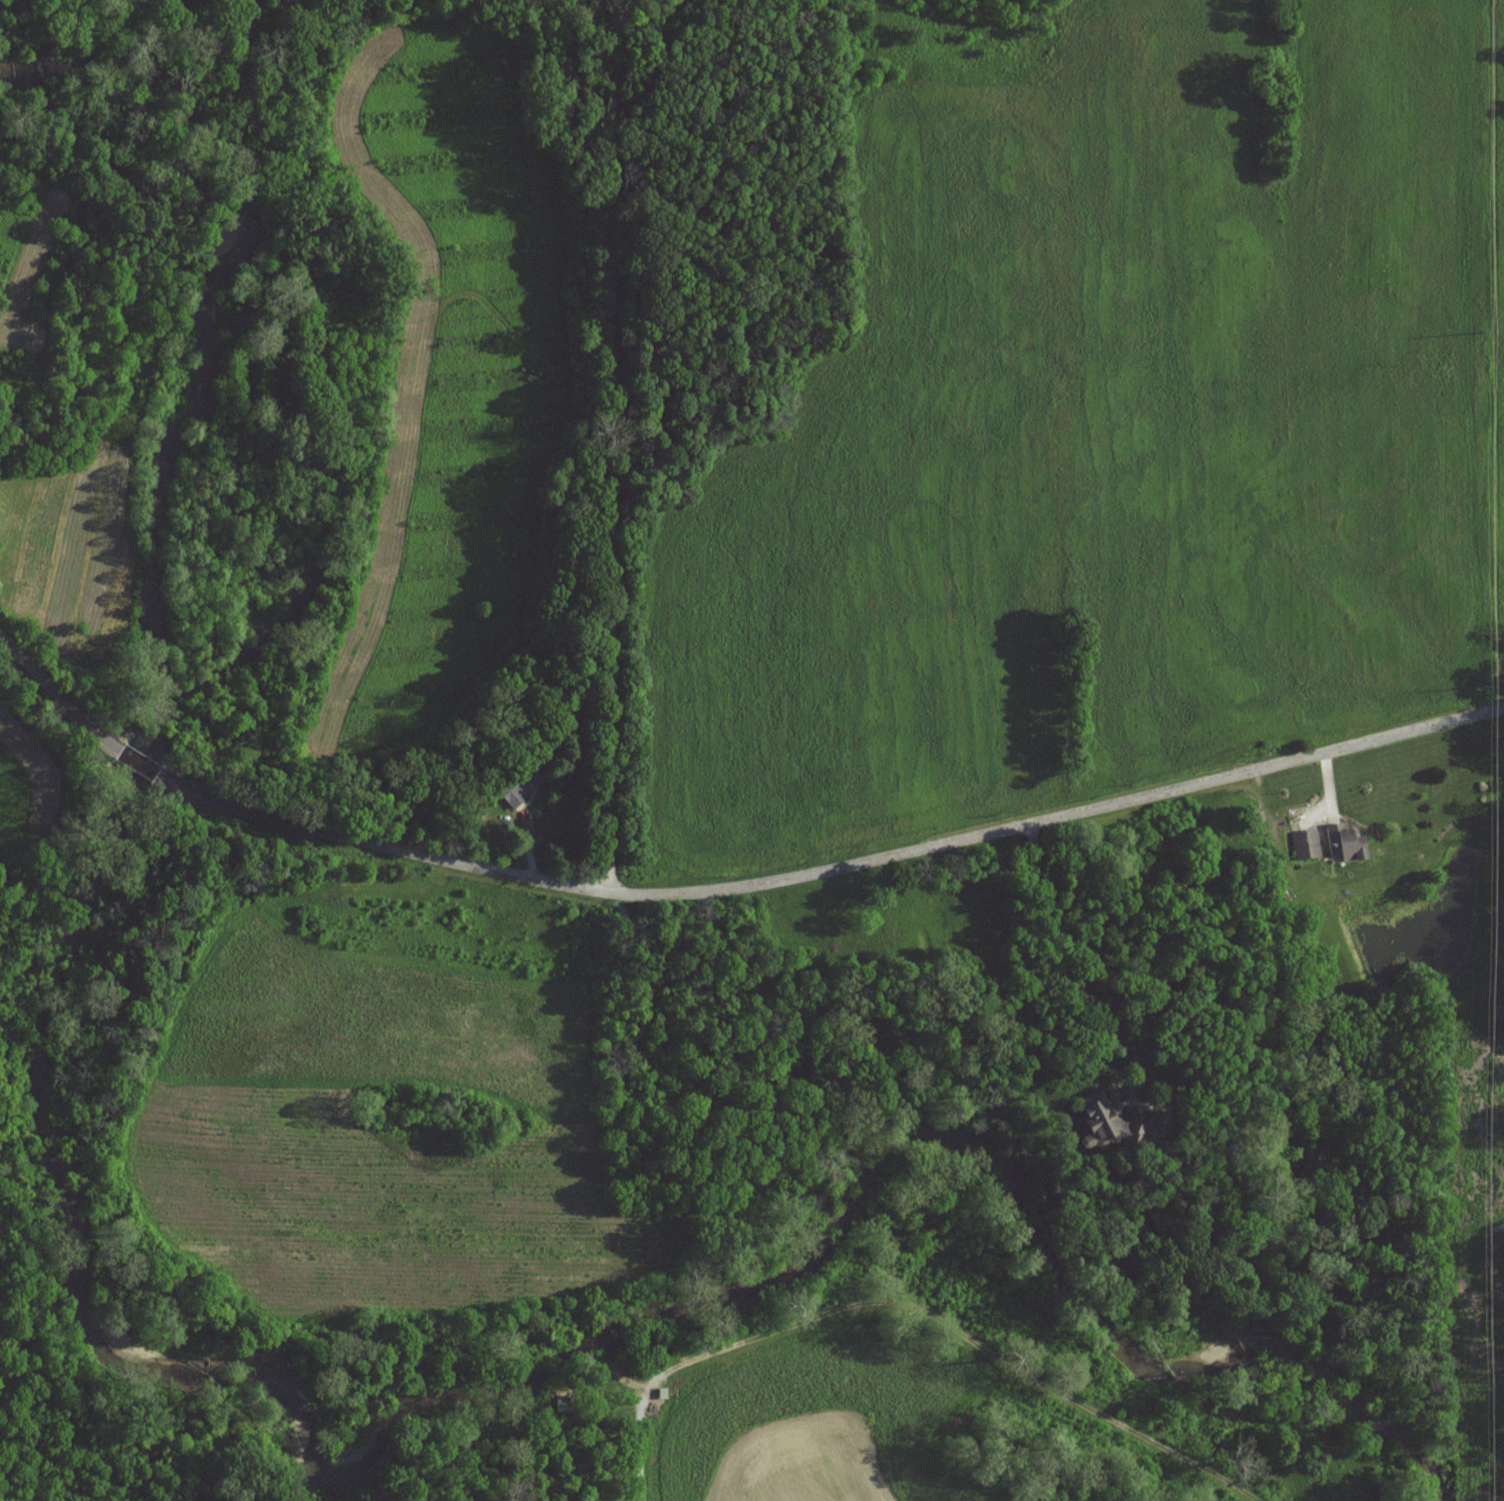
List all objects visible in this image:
road: (611, 446)
road: (58, 695)
road: (151, 768)
road: (203, 797)
building: (1341, 842)
building: (1303, 844)
road: (869, 862)
road: (1097, 1006)
park: (1499, 1089)
building: (1099, 1118)
road: (1023, 1373)
road: (658, 1374)

